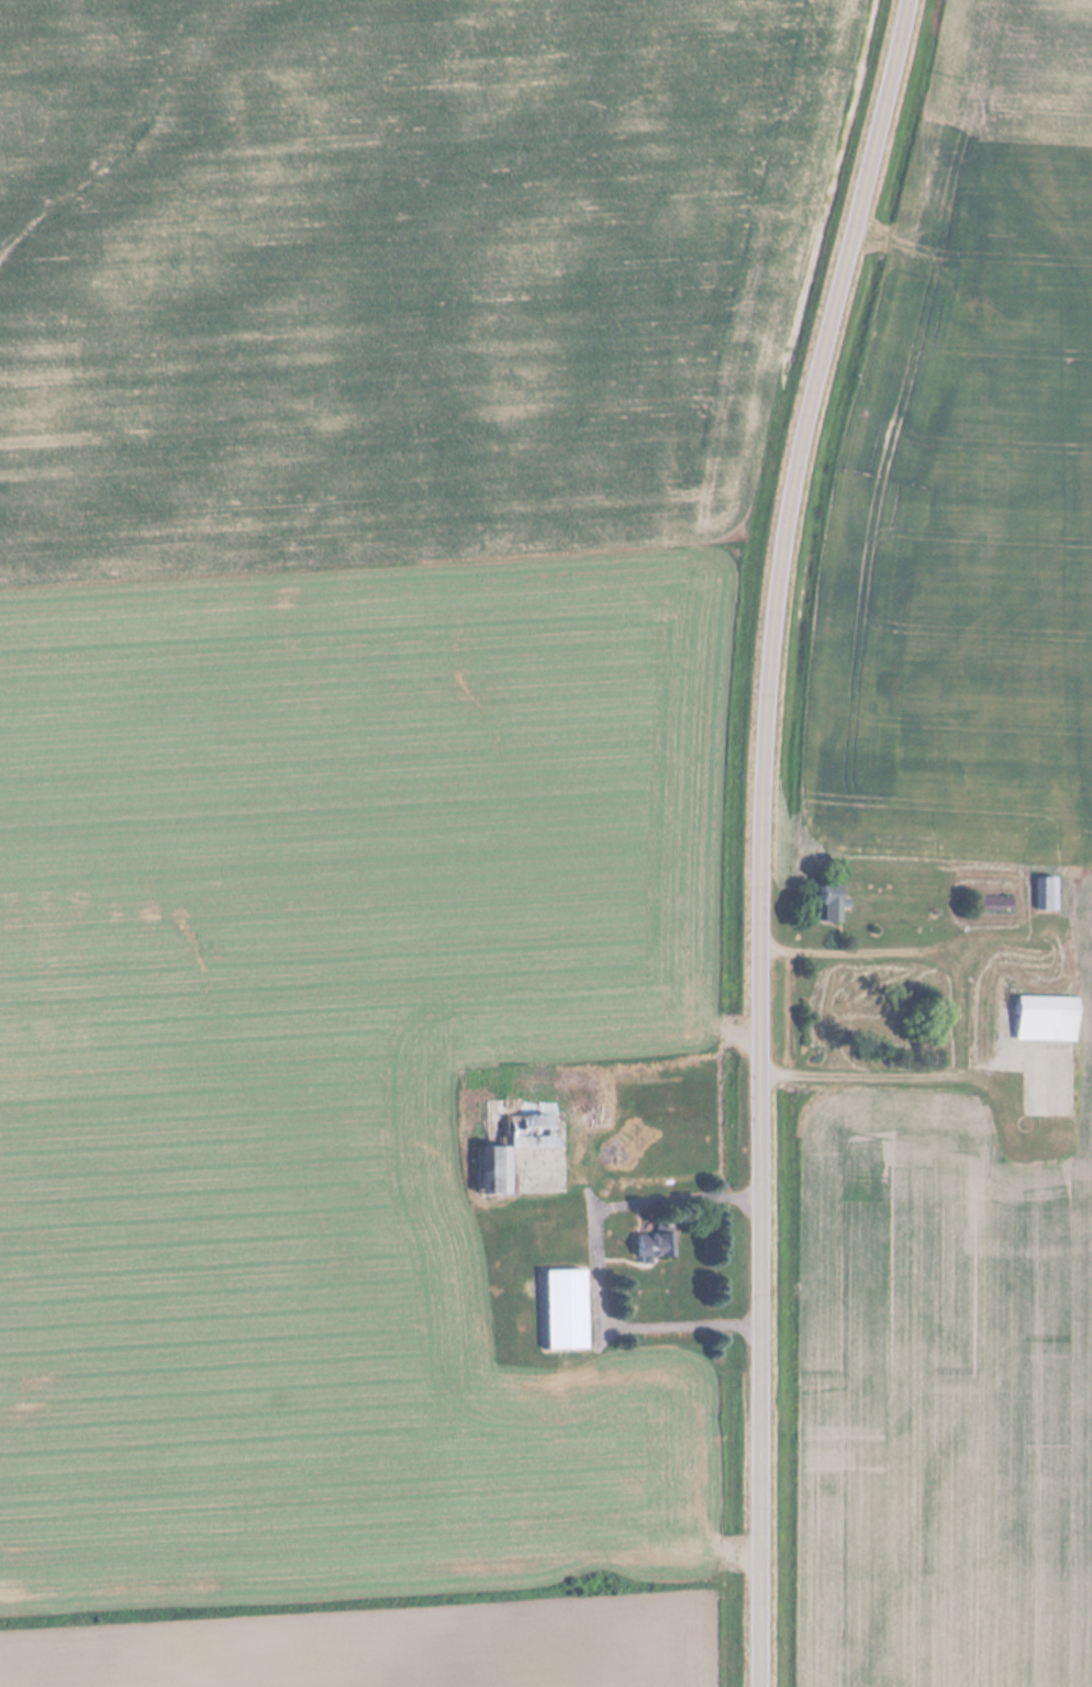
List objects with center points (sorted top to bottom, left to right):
road: (762, 835)
building: (1046, 895)
building: (832, 905)
building: (1046, 1020)
building: (601, 1118)
building: (513, 1141)
building: (551, 1240)
building: (655, 1248)
building: (565, 1310)

